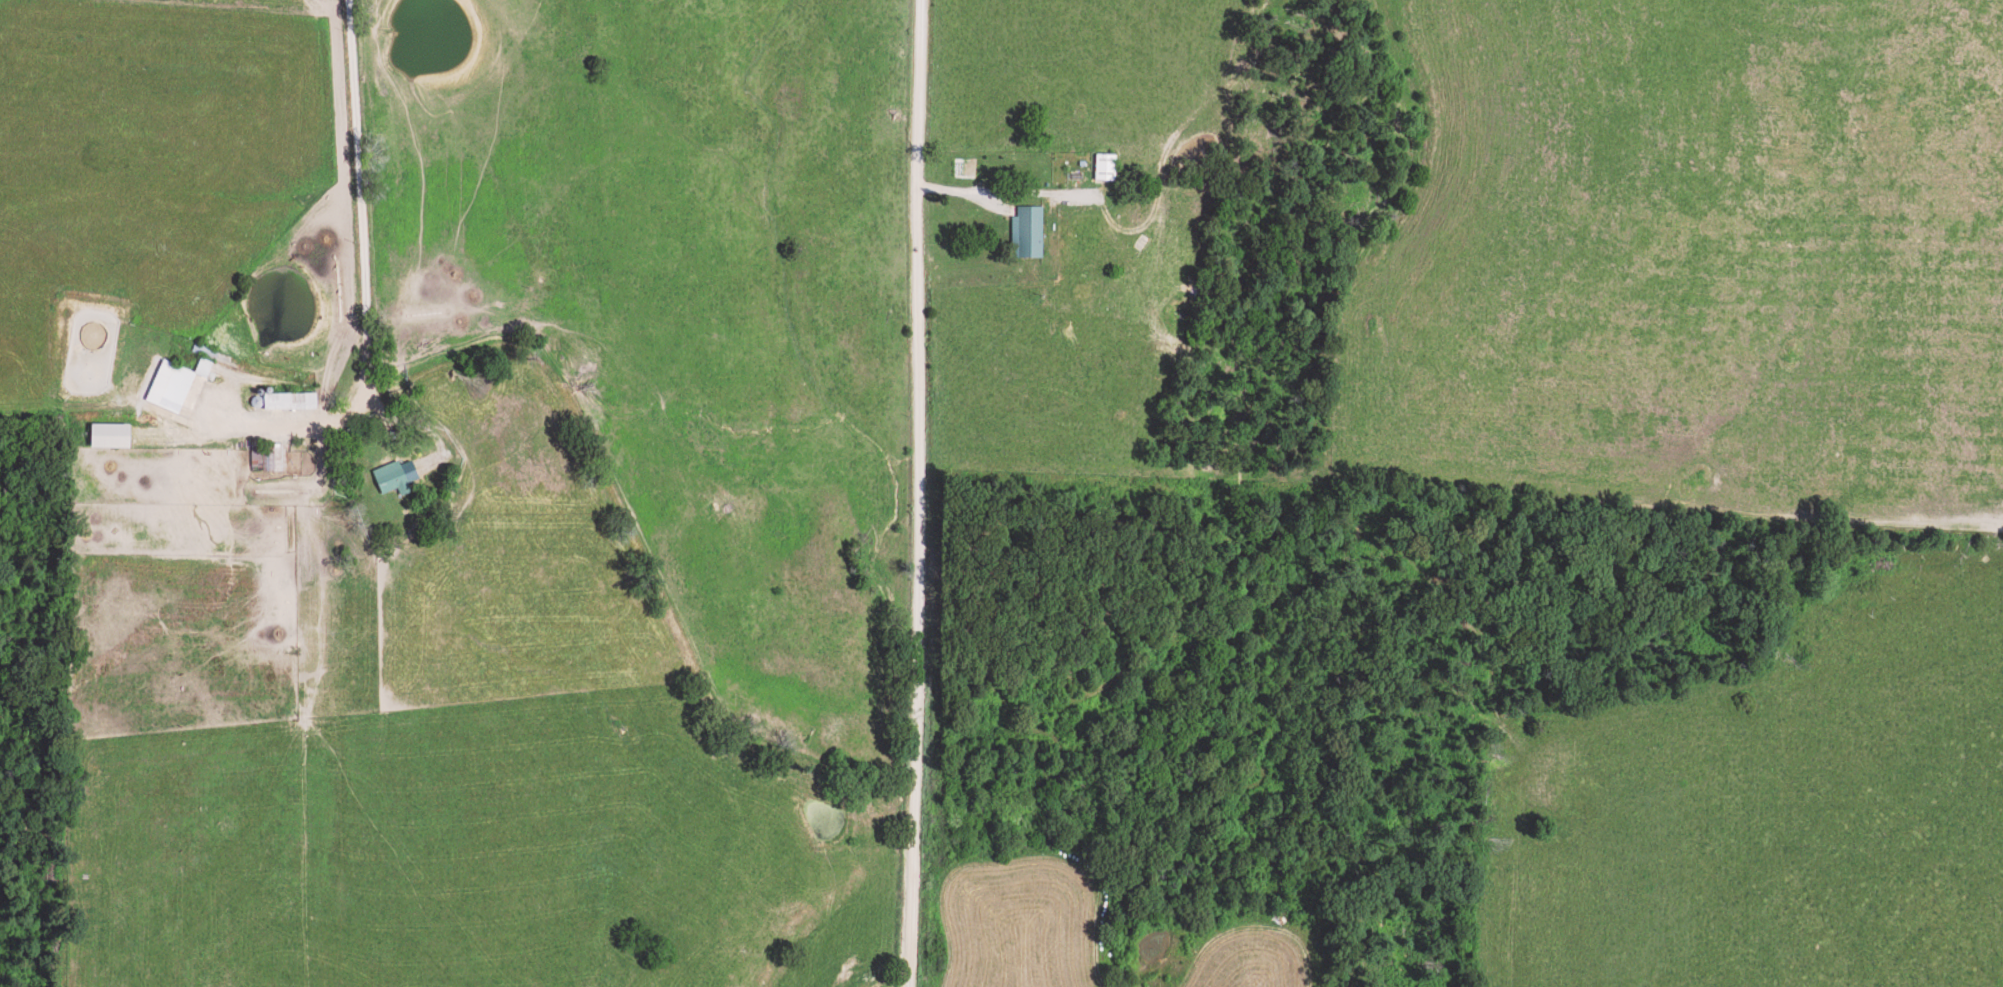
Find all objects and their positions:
building: (1099, 166)
building: (1023, 232)
building: (200, 369)
building: (163, 386)
building: (280, 401)
road: (563, 408)
building: (101, 435)
building: (270, 457)
road: (937, 494)

